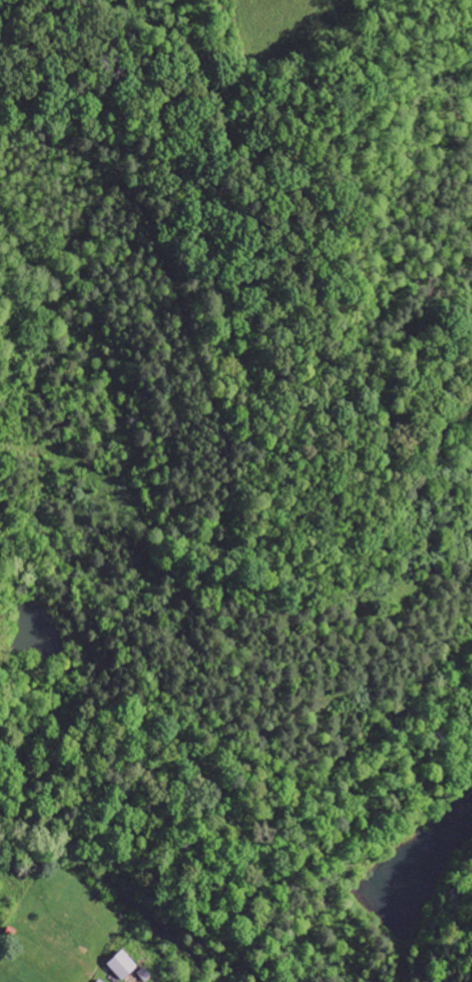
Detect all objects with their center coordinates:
park: (140, 91)
road: (105, 907)
building: (123, 966)
building: (145, 975)
building: (101, 981)

